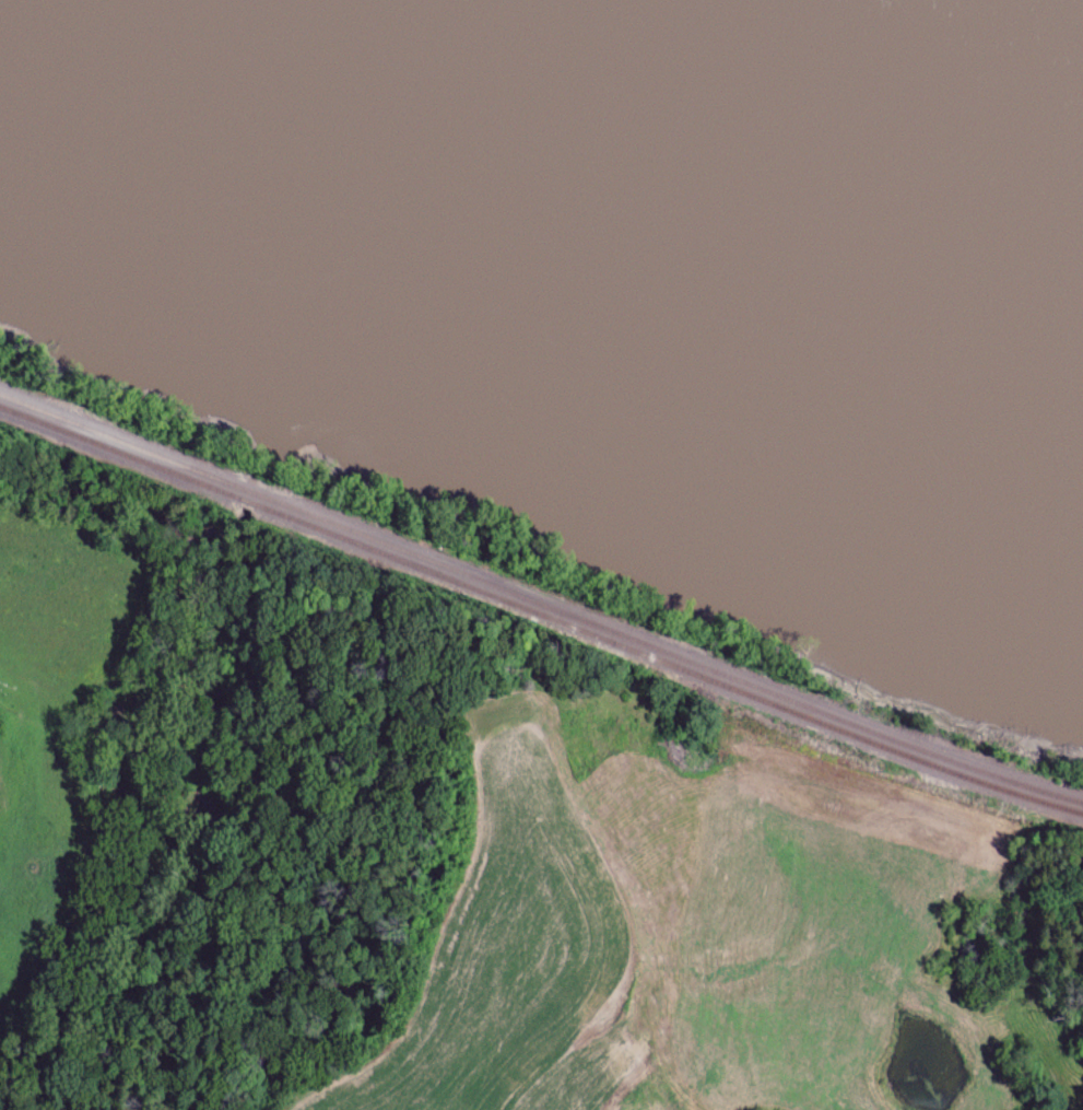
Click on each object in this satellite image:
river: (634, 222)
railway: (540, 605)
railway: (541, 618)

